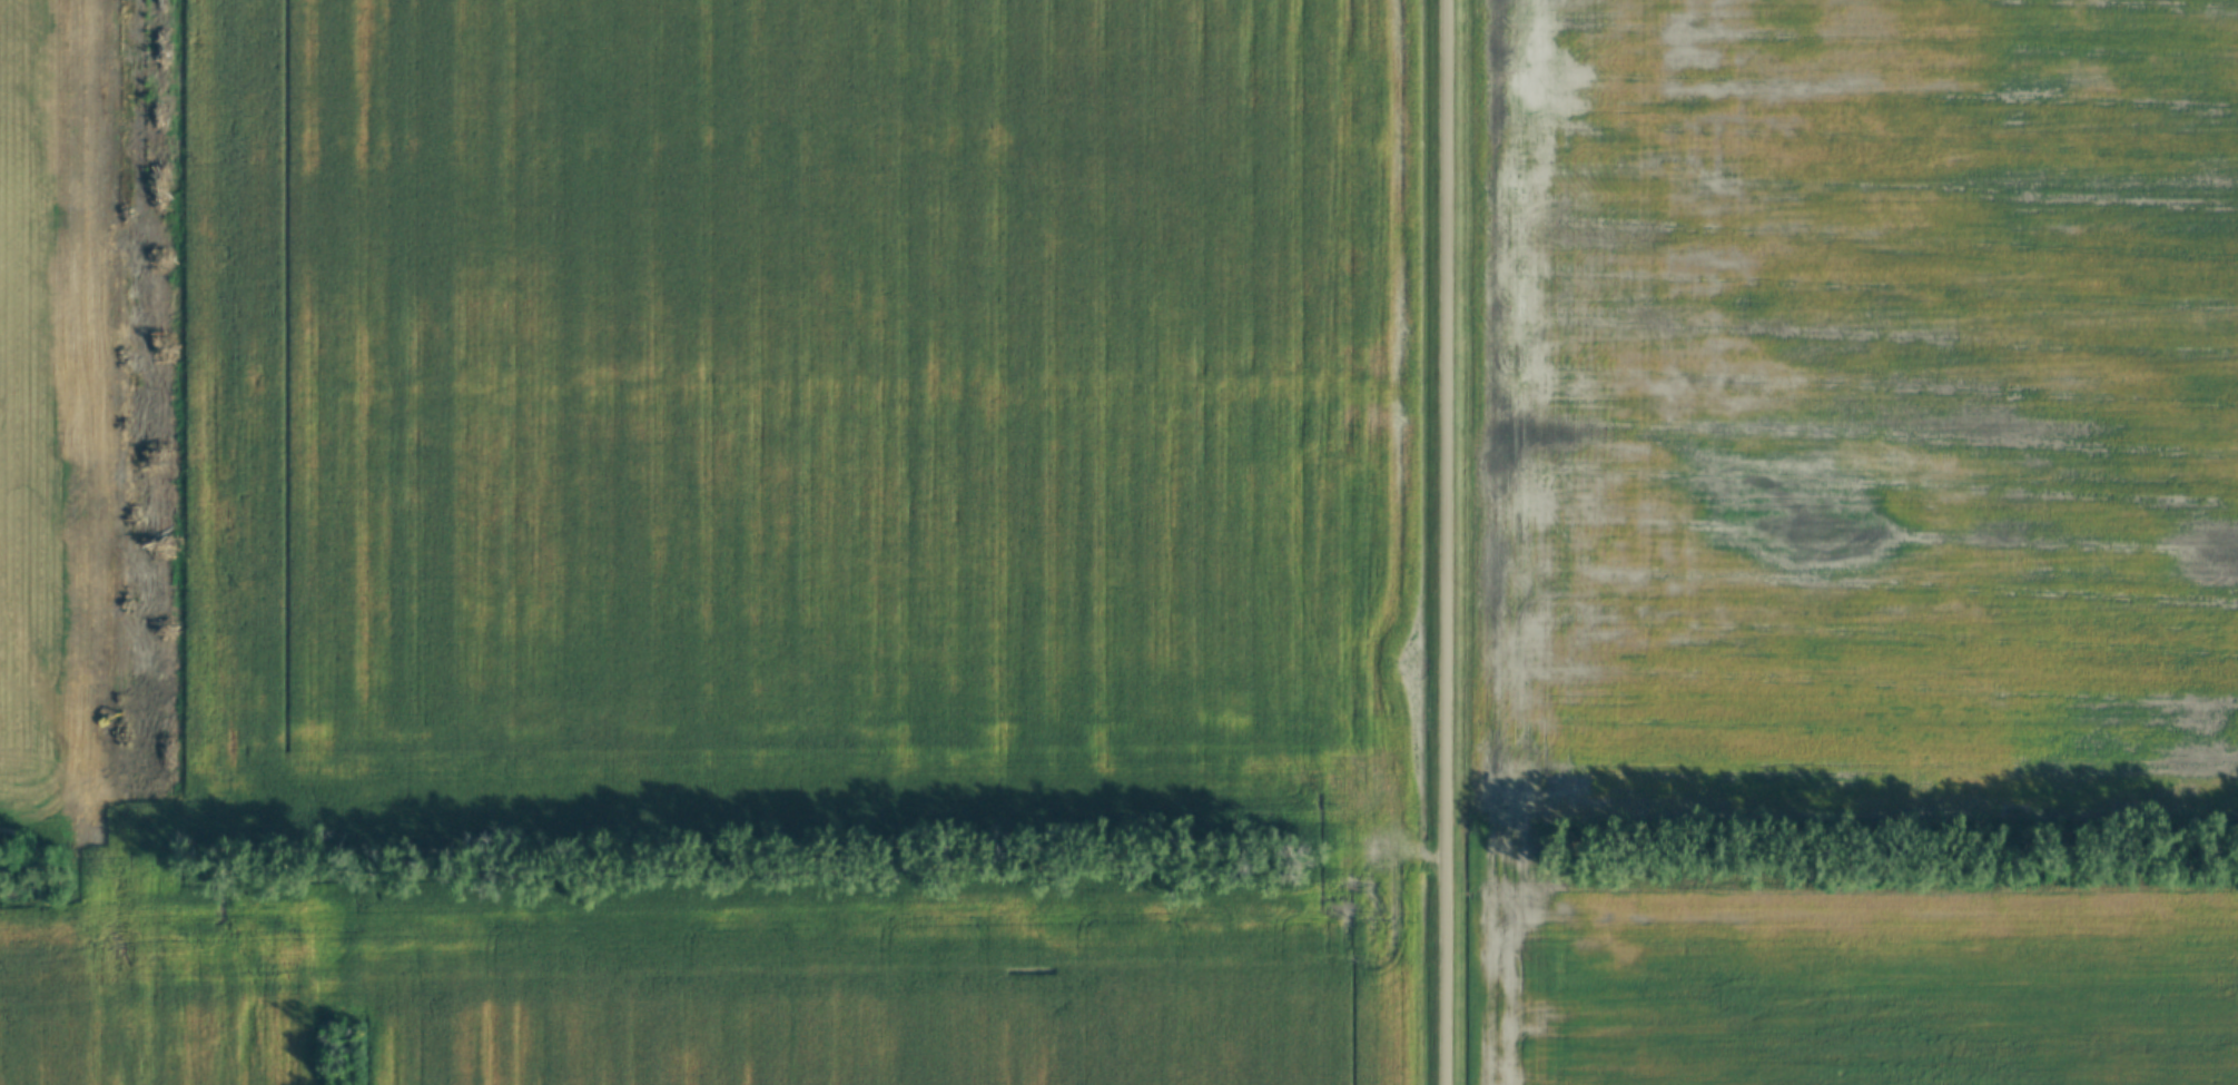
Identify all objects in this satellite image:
road: (1453, 542)

